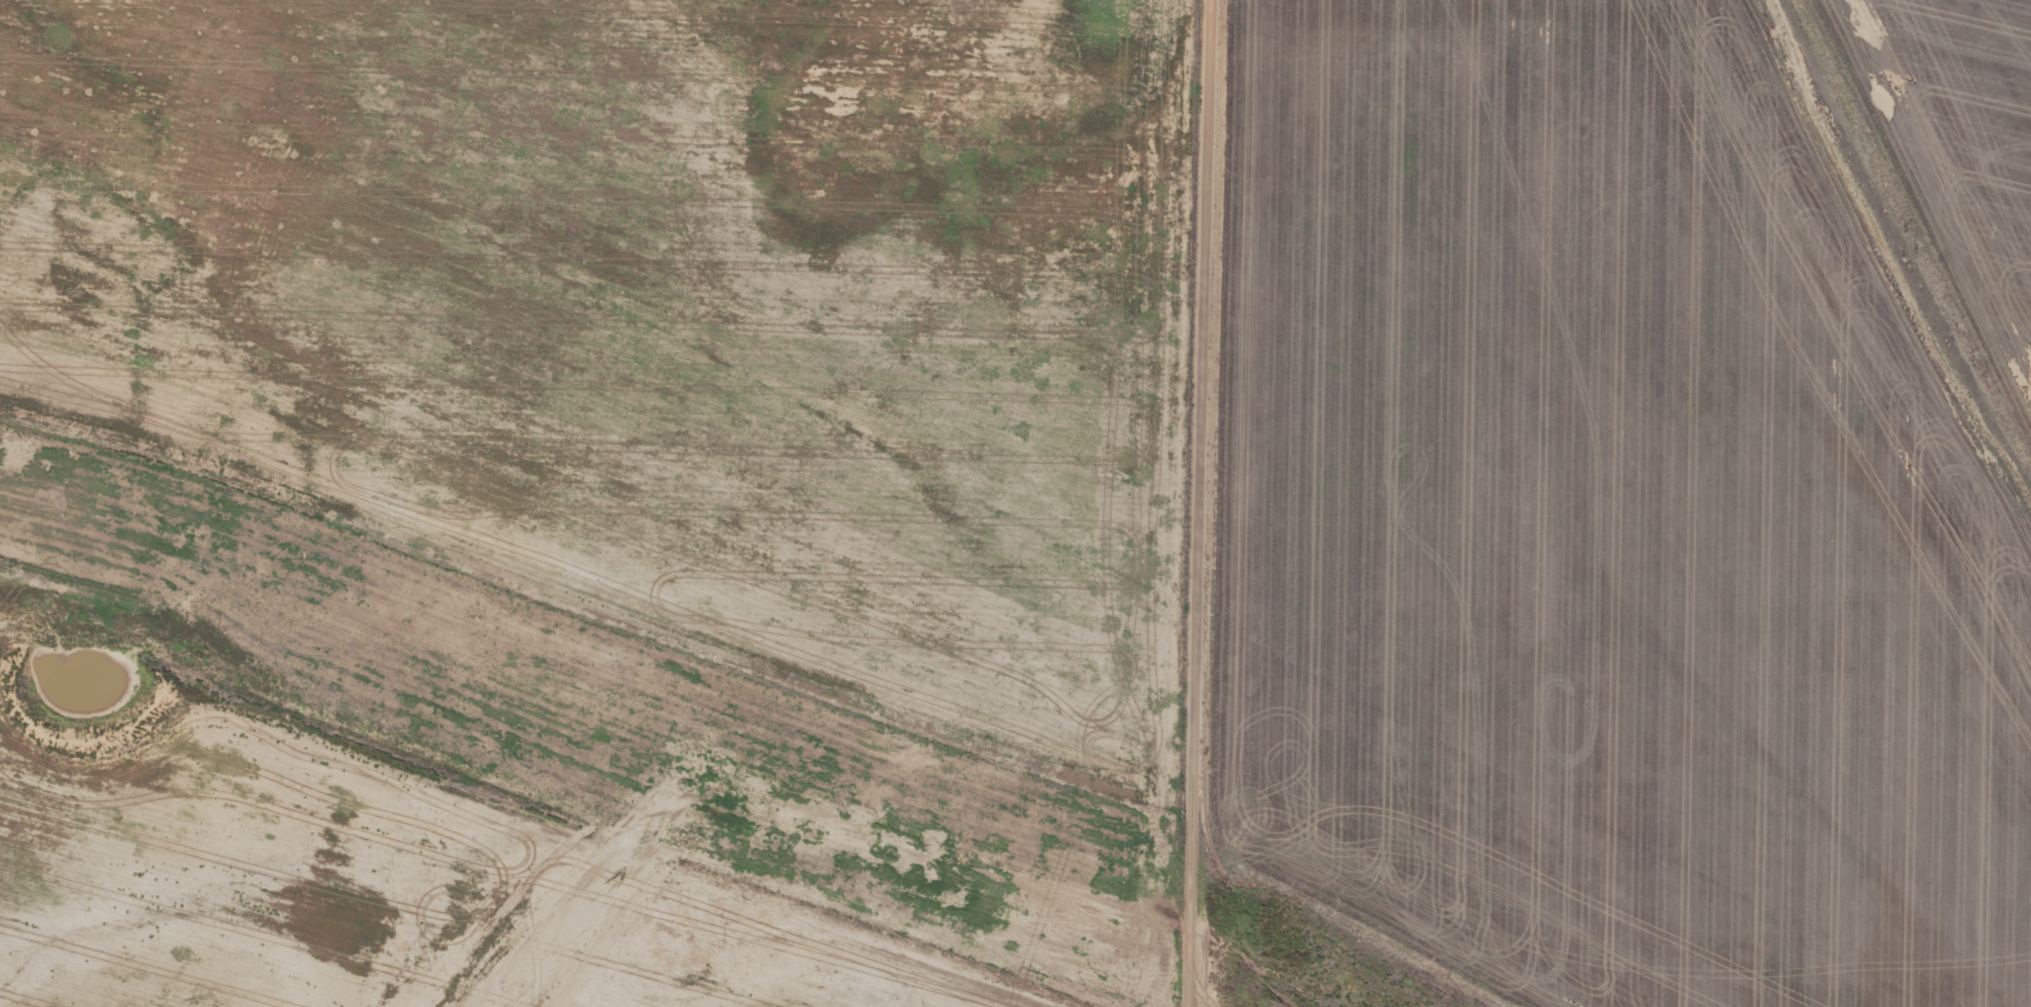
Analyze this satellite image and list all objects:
road: (1202, 503)

